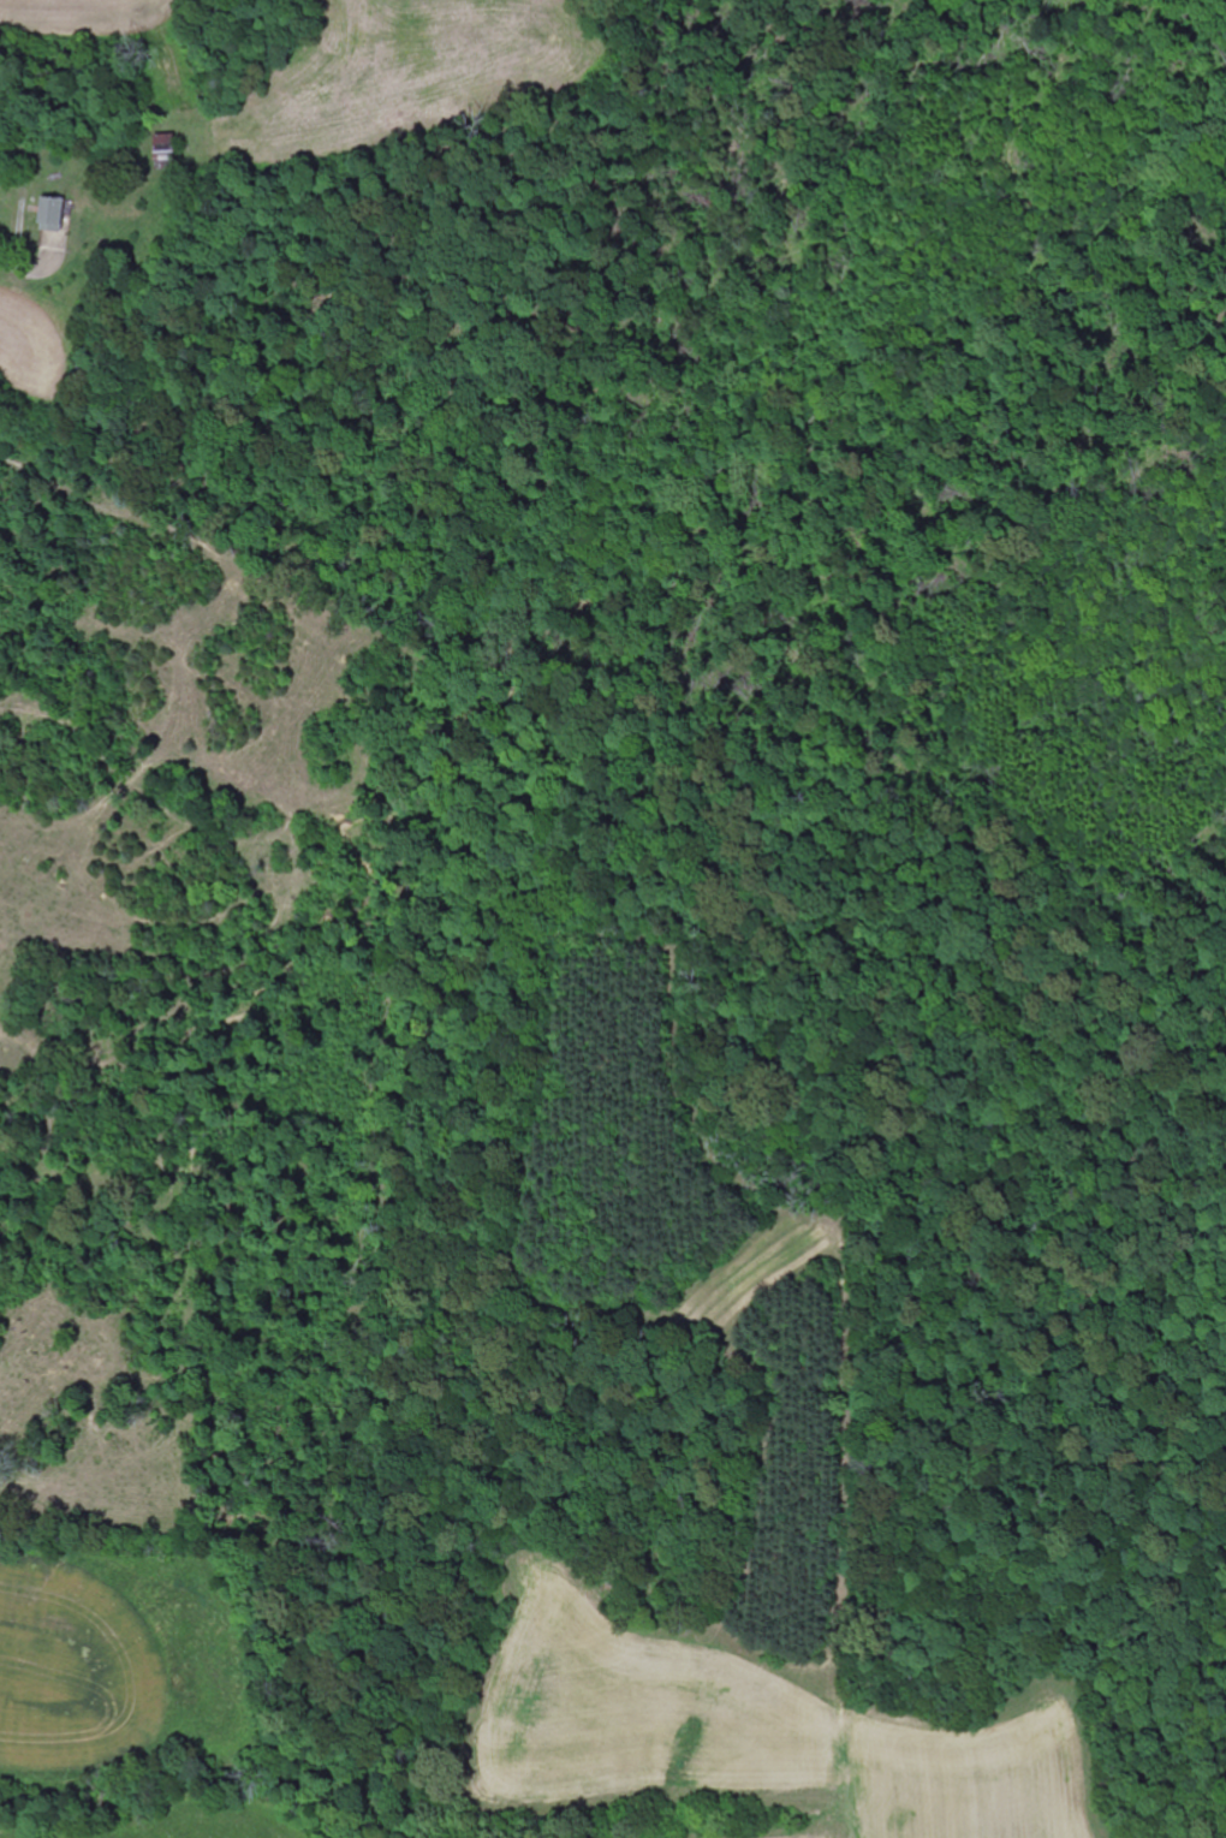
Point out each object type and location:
building: (172, 144)
building: (58, 214)

